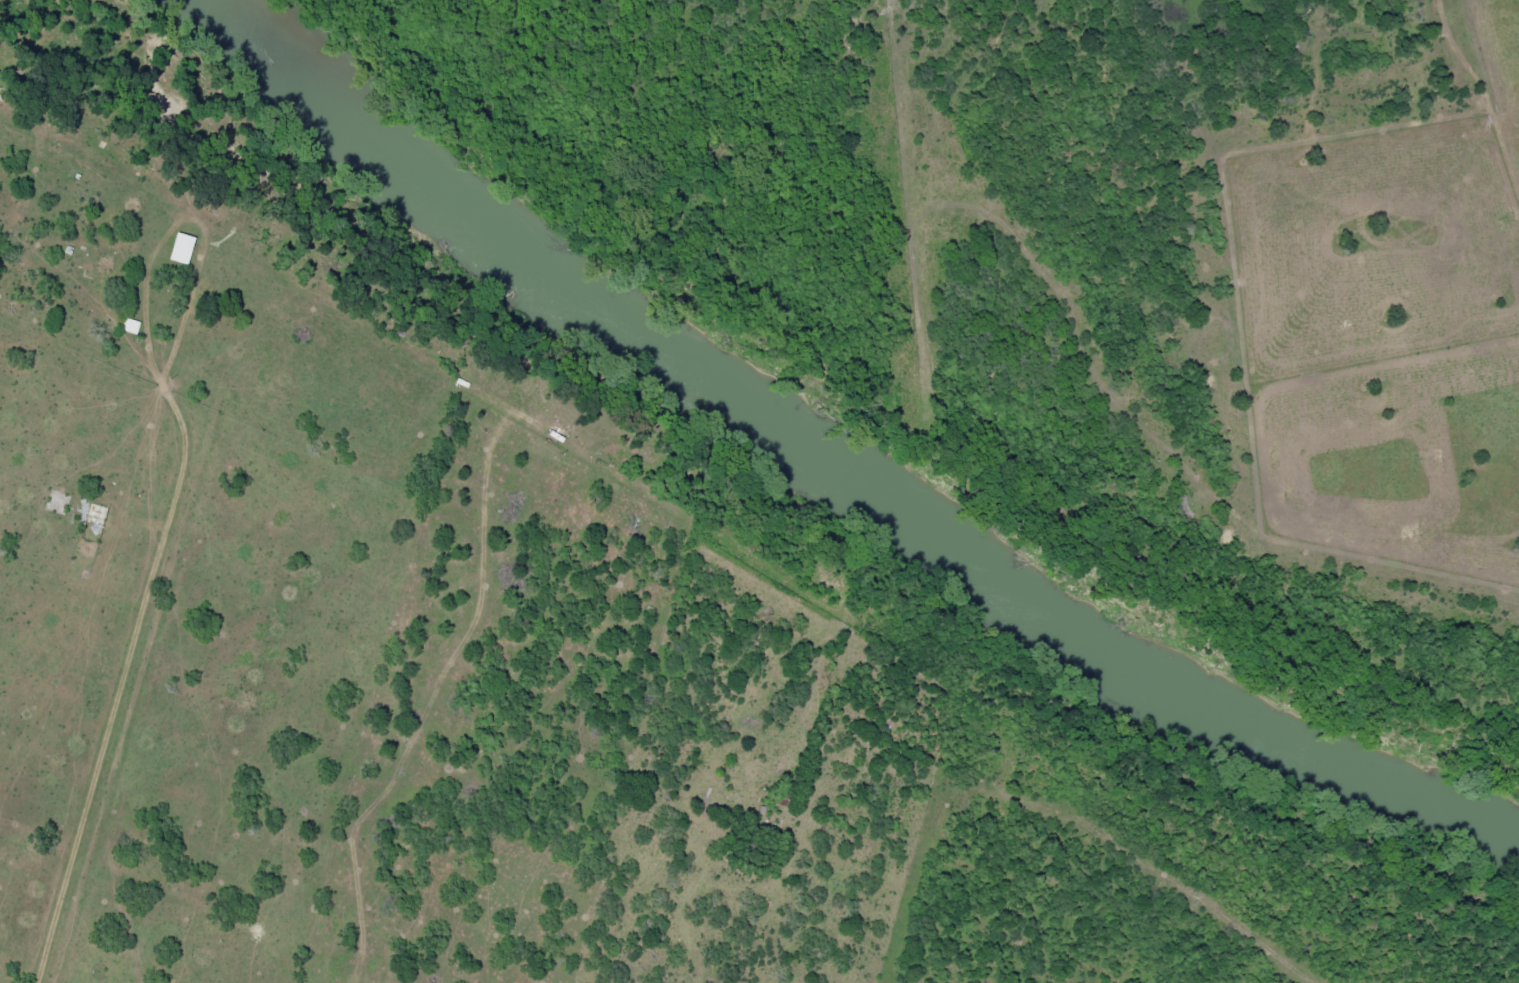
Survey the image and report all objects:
building: (180, 247)
building: (129, 325)
road: (1232, 384)
river: (837, 470)
road: (682, 529)

